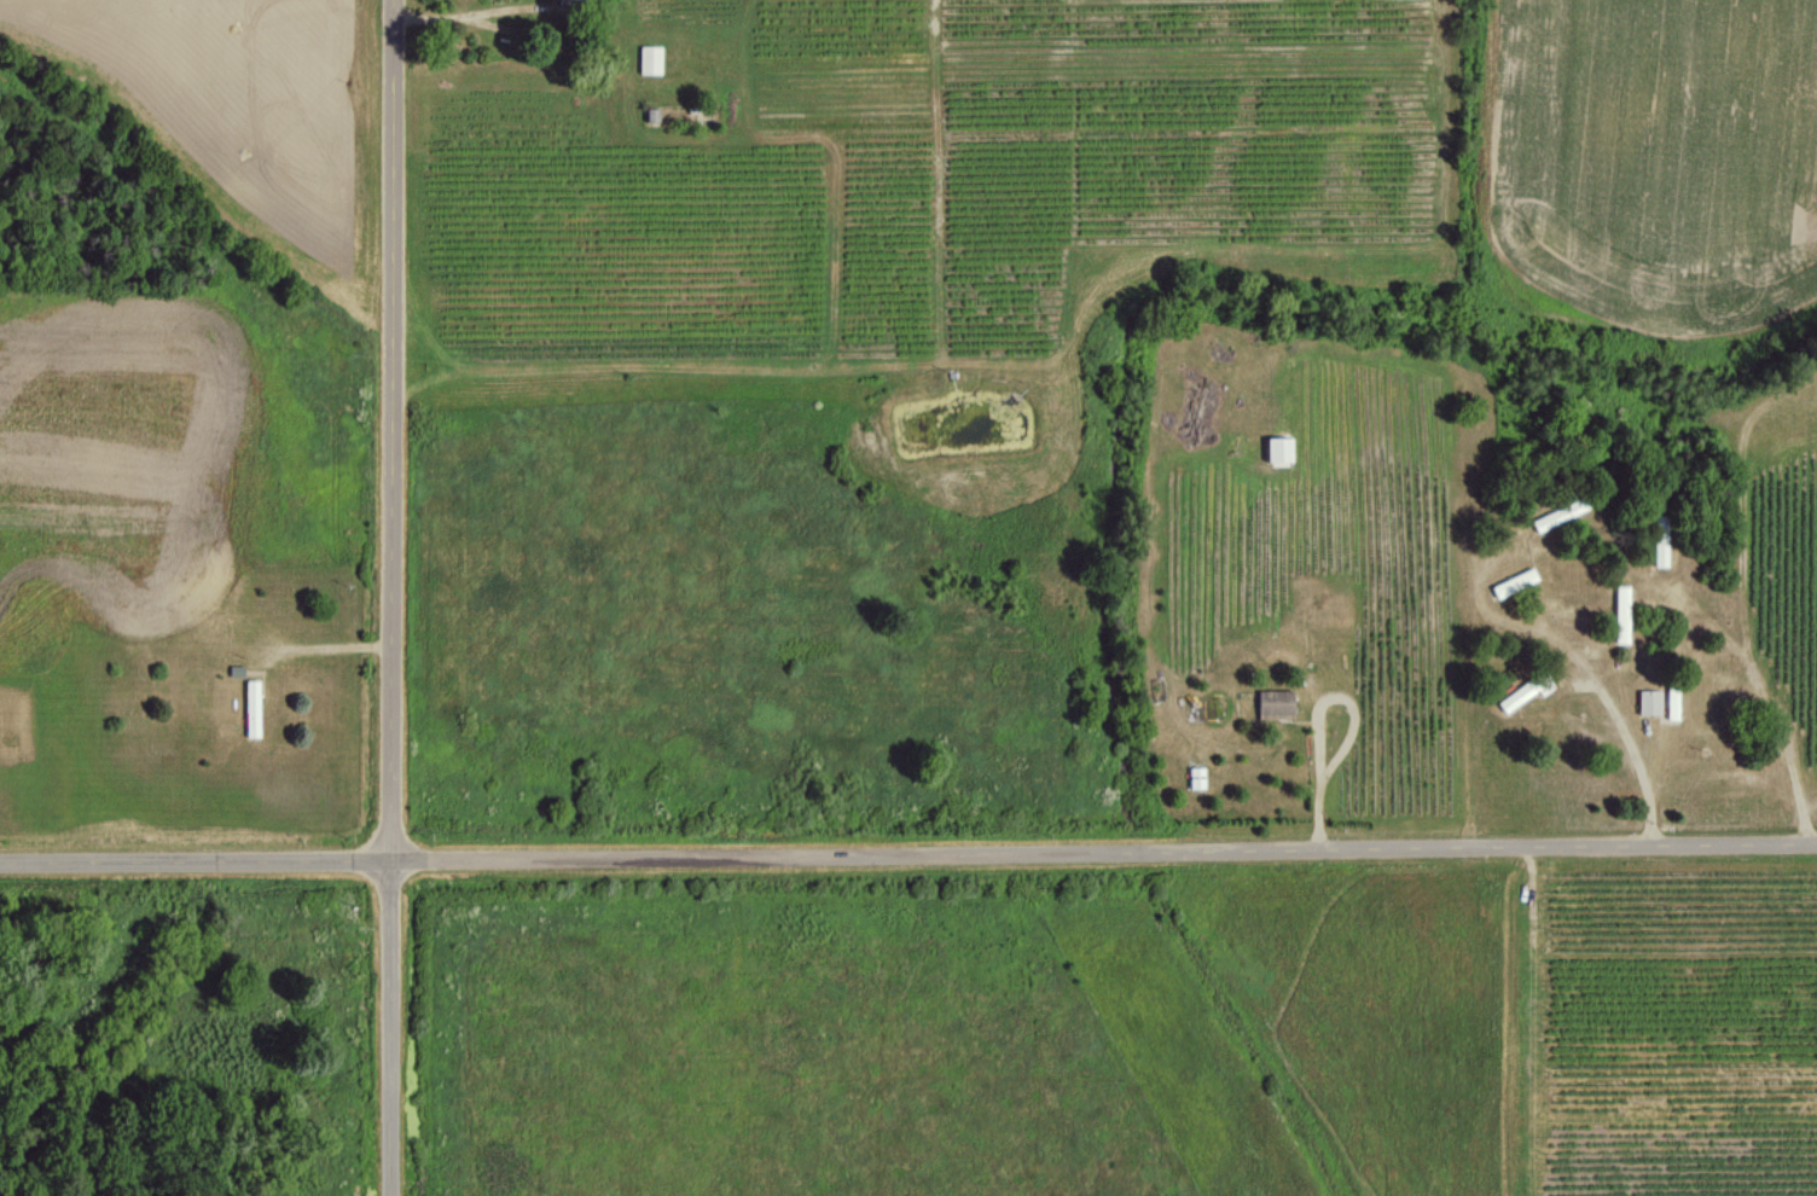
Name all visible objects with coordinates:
building: (649, 59)
building: (1277, 449)
building: (1658, 544)
building: (1511, 582)
road: (396, 597)
building: (1619, 614)
road: (1769, 692)
building: (1647, 702)
building: (1275, 703)
building: (251, 708)
road: (1625, 719)
building: (1196, 777)
road: (908, 850)

